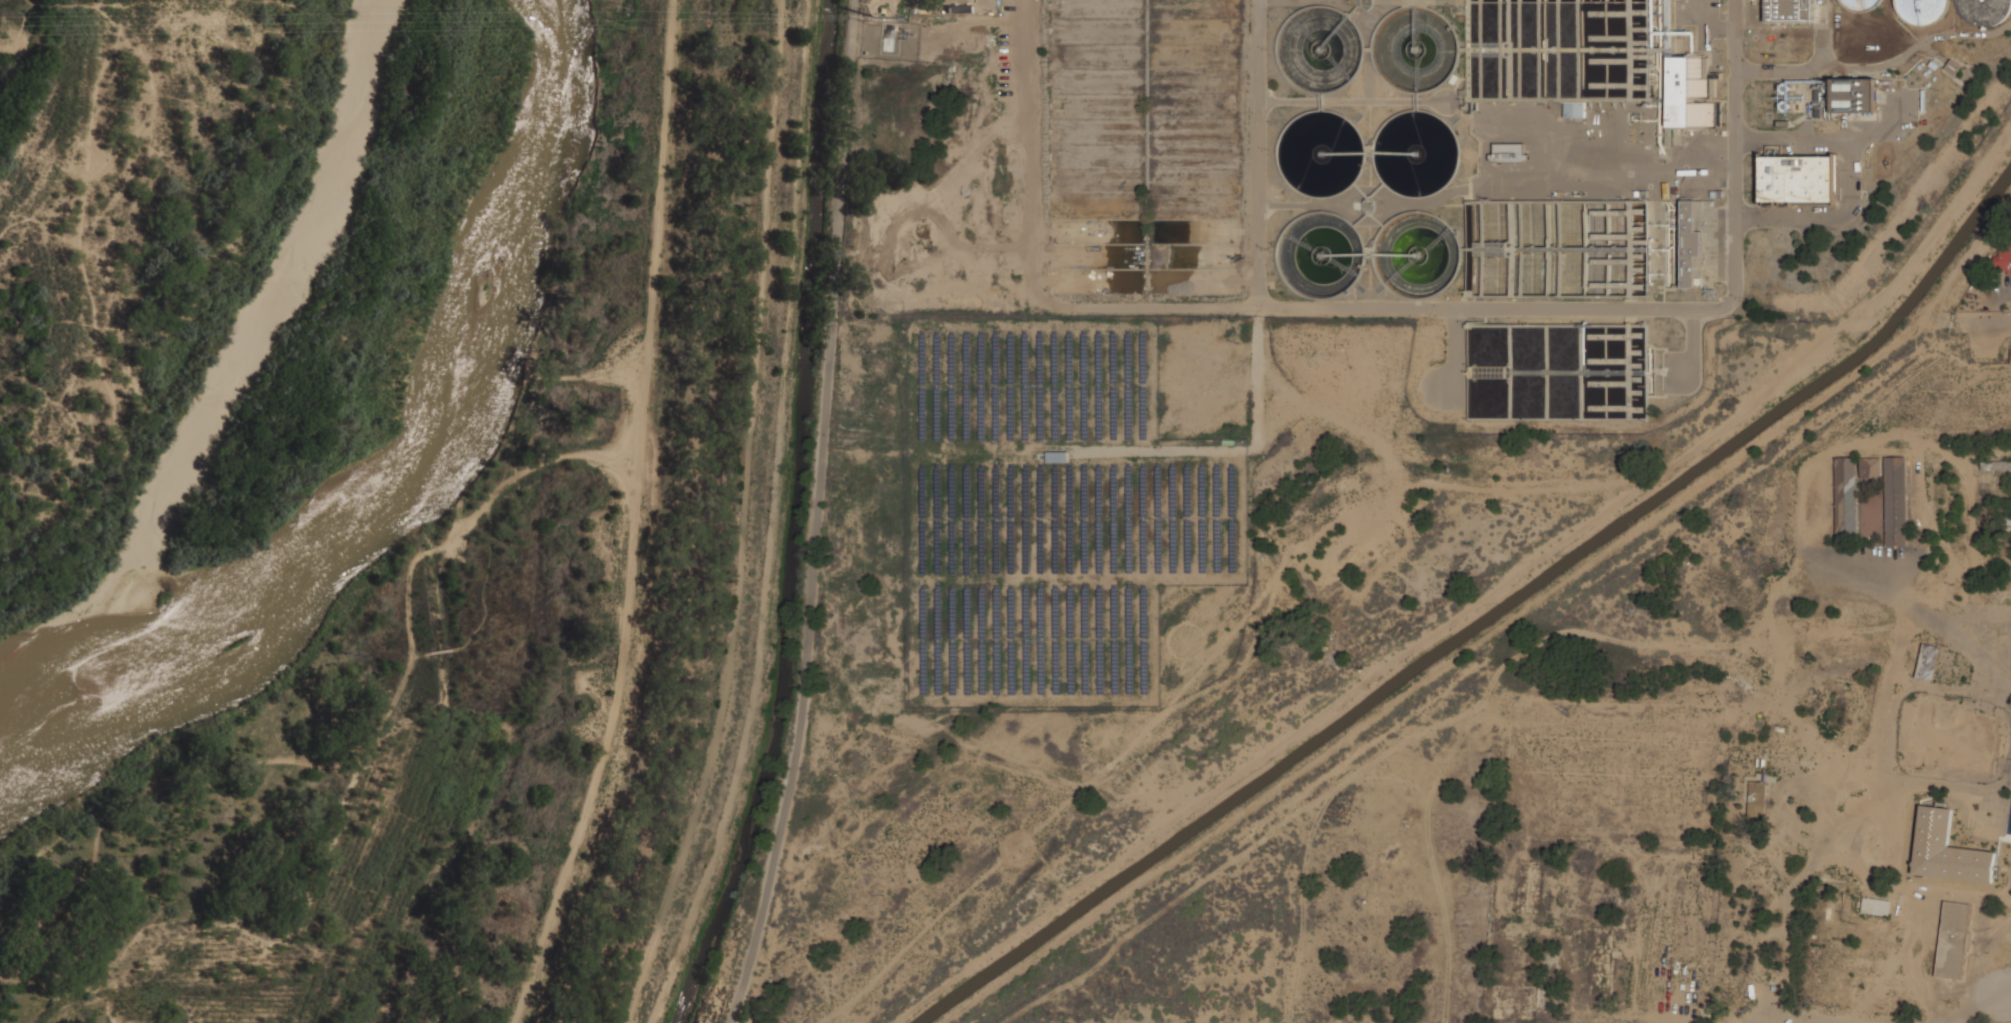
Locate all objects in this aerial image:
building: (1861, 4)
building: (1922, 10)
building: (1794, 11)
building: (1986, 11)
power tower: (876, 16)
building: (1659, 37)
power substation: (891, 39)
building: (1688, 91)
building: (1854, 94)
building: (1573, 107)
building: (1509, 151)
wastewater plant: (1418, 172)
building: (1798, 178)
building: (1692, 241)
building: (2004, 257)
road: (1980, 322)
river: (241, 398)
building: (1057, 456)
building: (1996, 465)
building: (1871, 468)
building: (1847, 497)
building: (1896, 500)
solar farm: (1053, 512)
road: (816, 515)
road: (427, 550)
building: (1928, 661)
building: (1954, 736)
building: (1758, 798)
building: (1942, 832)
building: (1835, 885)
building: (1877, 905)
building: (1954, 939)
building: (1834, 942)
building: (1829, 975)

